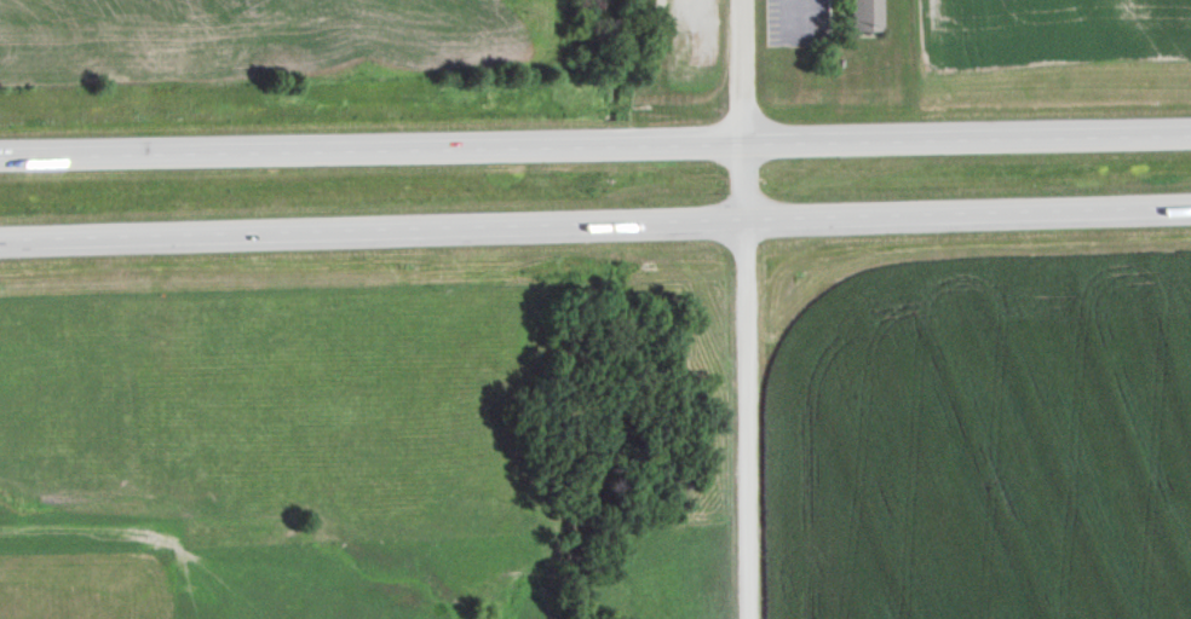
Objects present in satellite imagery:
building: (865, 16)
road: (595, 143)
road: (595, 228)
road: (747, 308)

